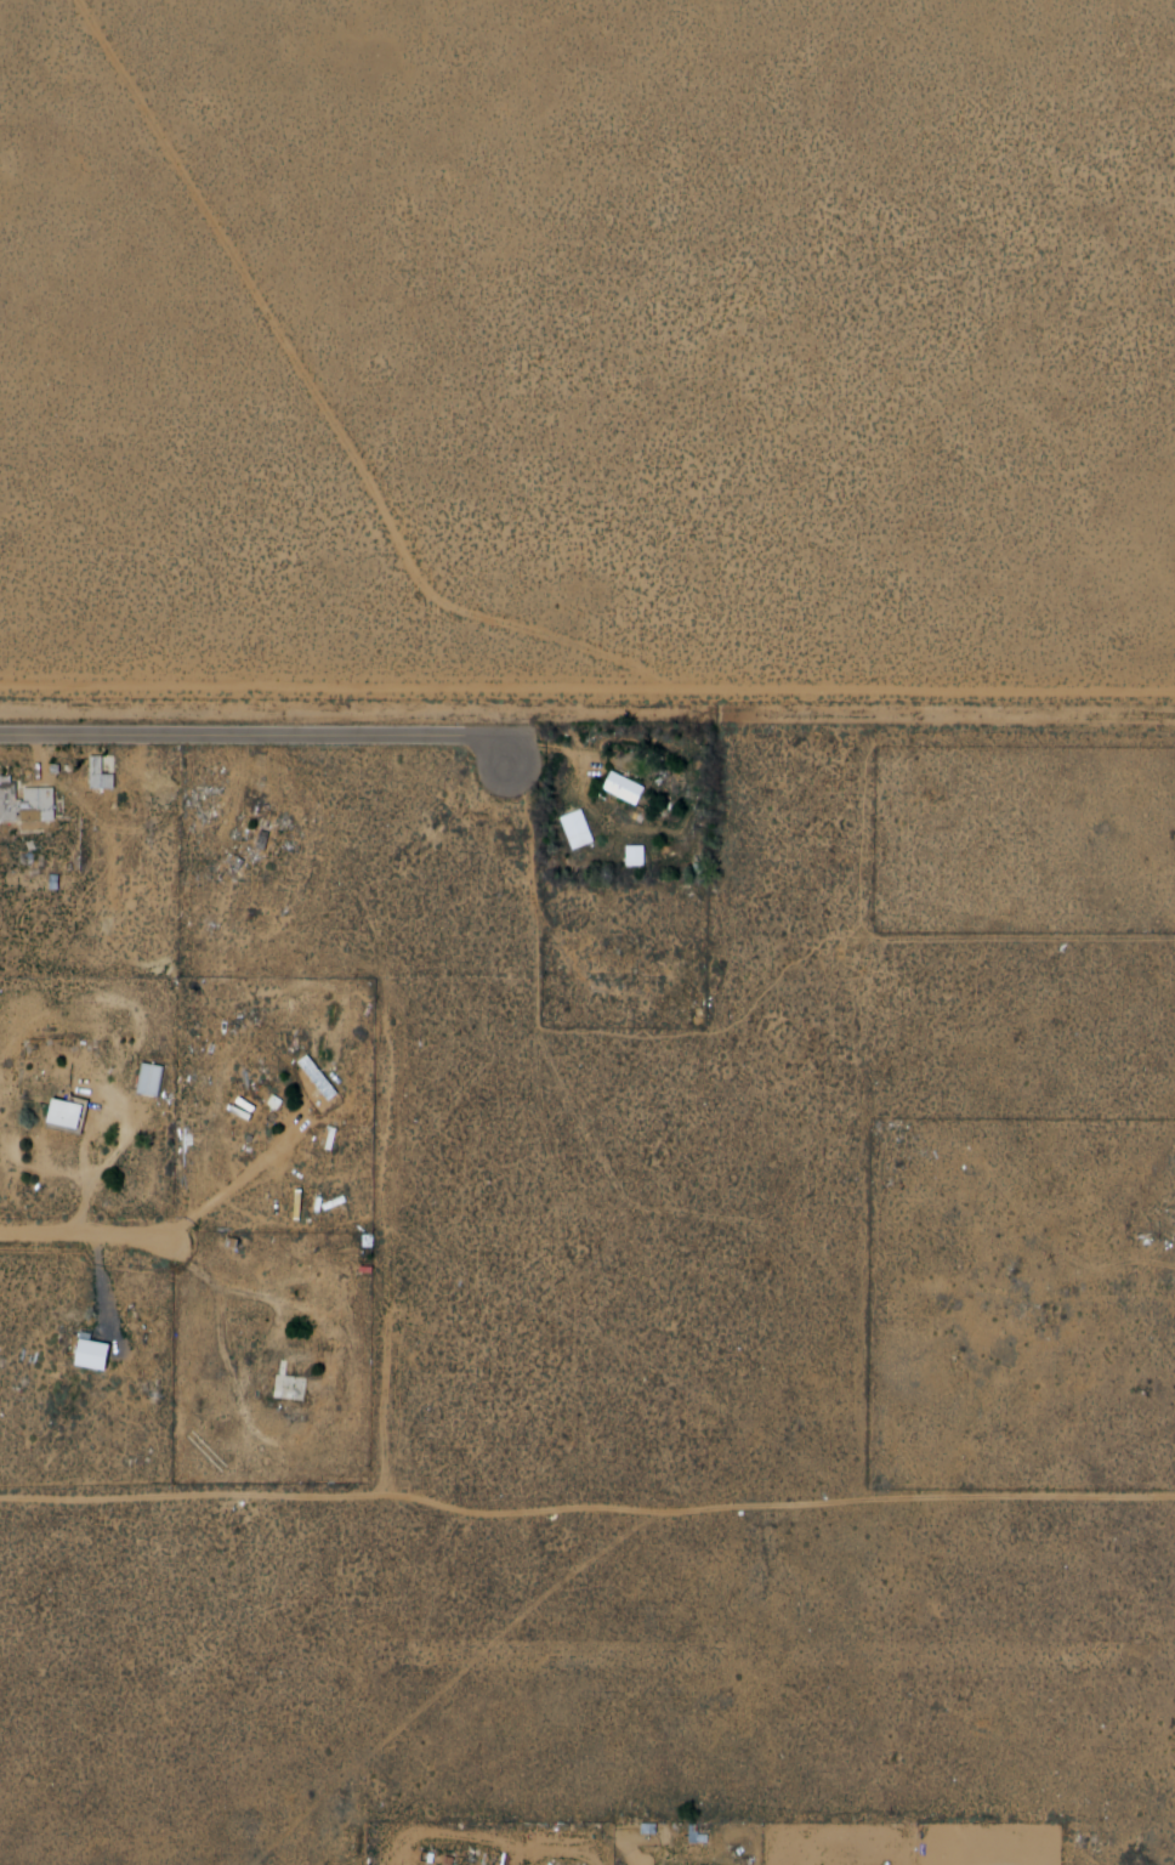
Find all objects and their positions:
road: (260, 726)
building: (104, 775)
building: (629, 787)
building: (42, 793)
building: (634, 855)
building: (697, 1009)
building: (322, 1077)
building: (68, 1111)
road: (90, 1240)
building: (95, 1354)
building: (296, 1384)
building: (425, 1857)

